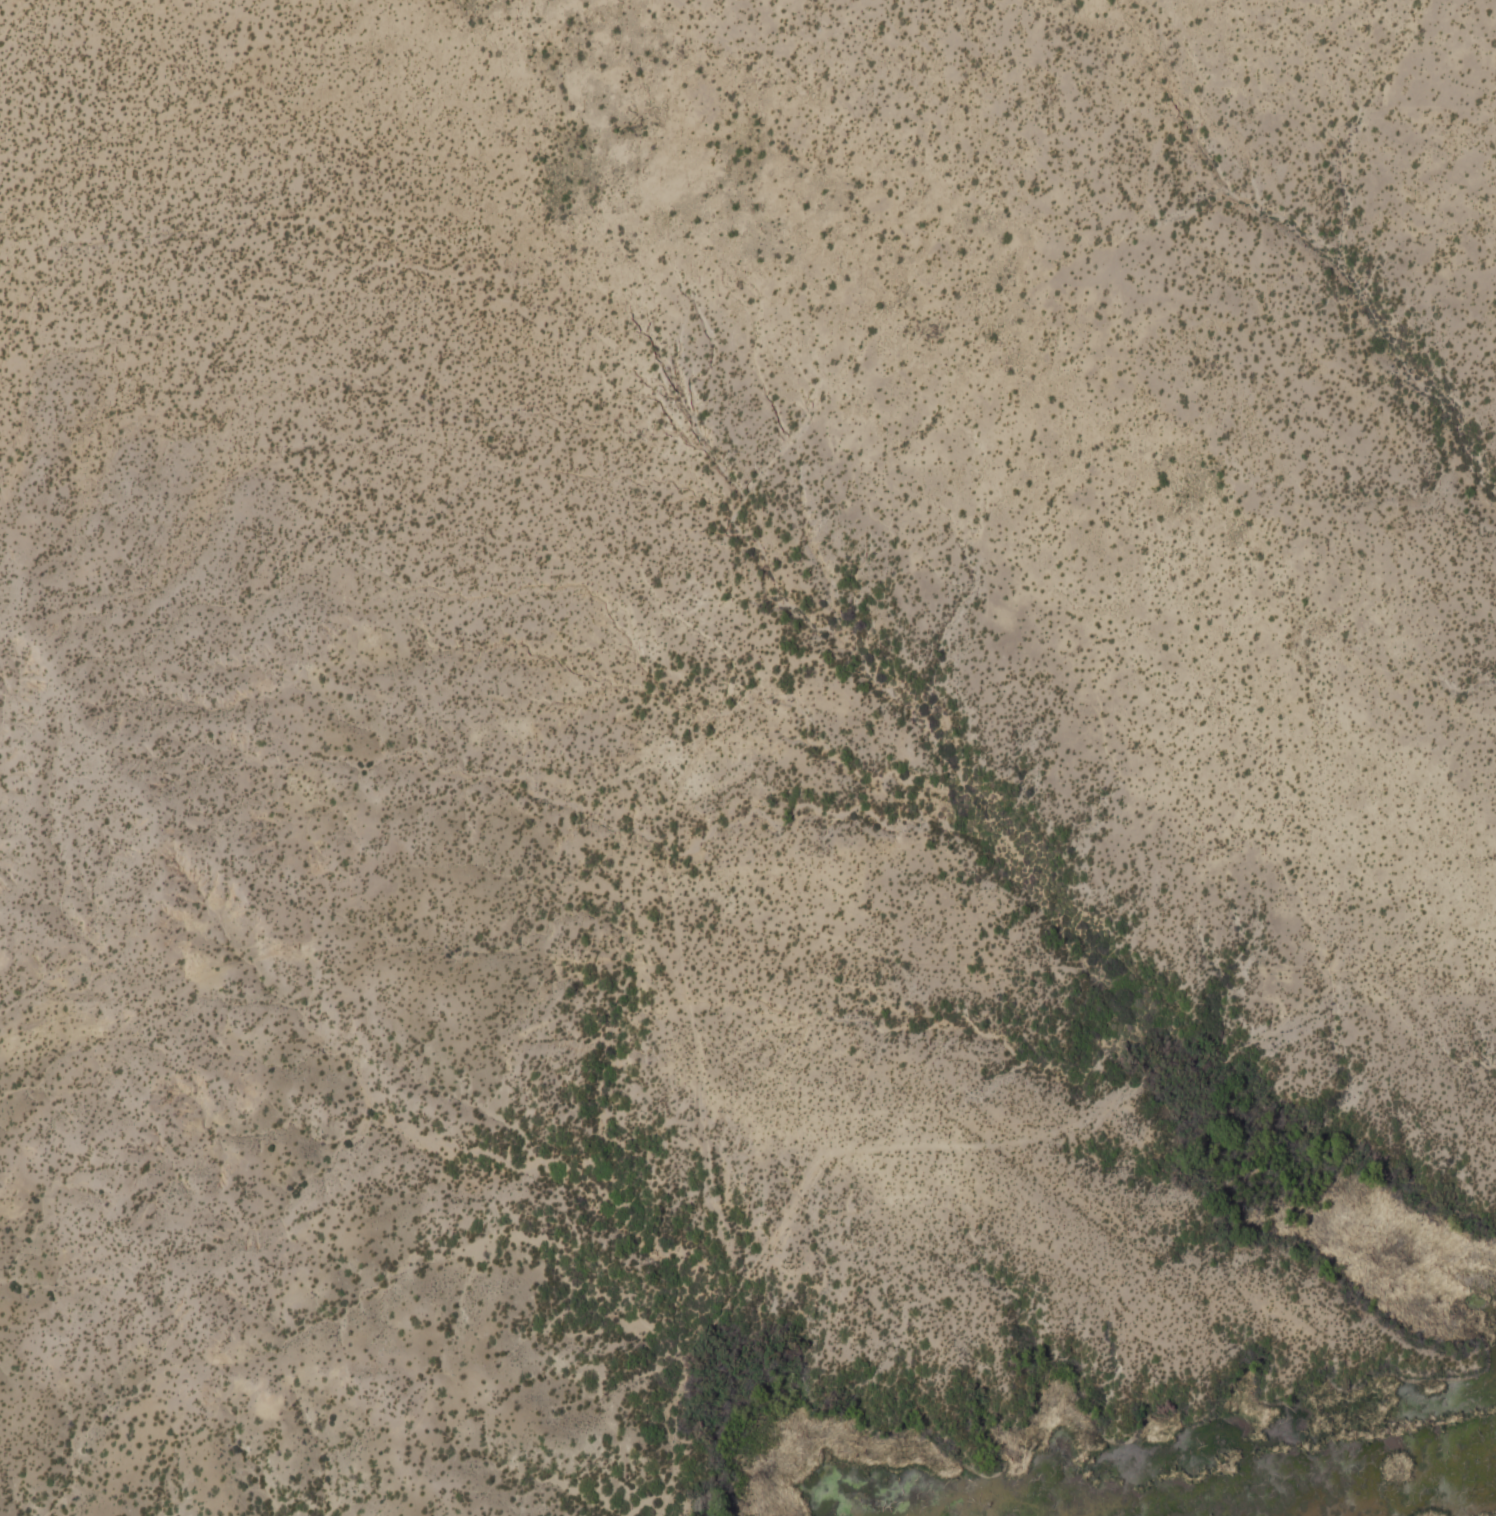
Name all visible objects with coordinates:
road: (16, 18)
road: (1397, 956)

